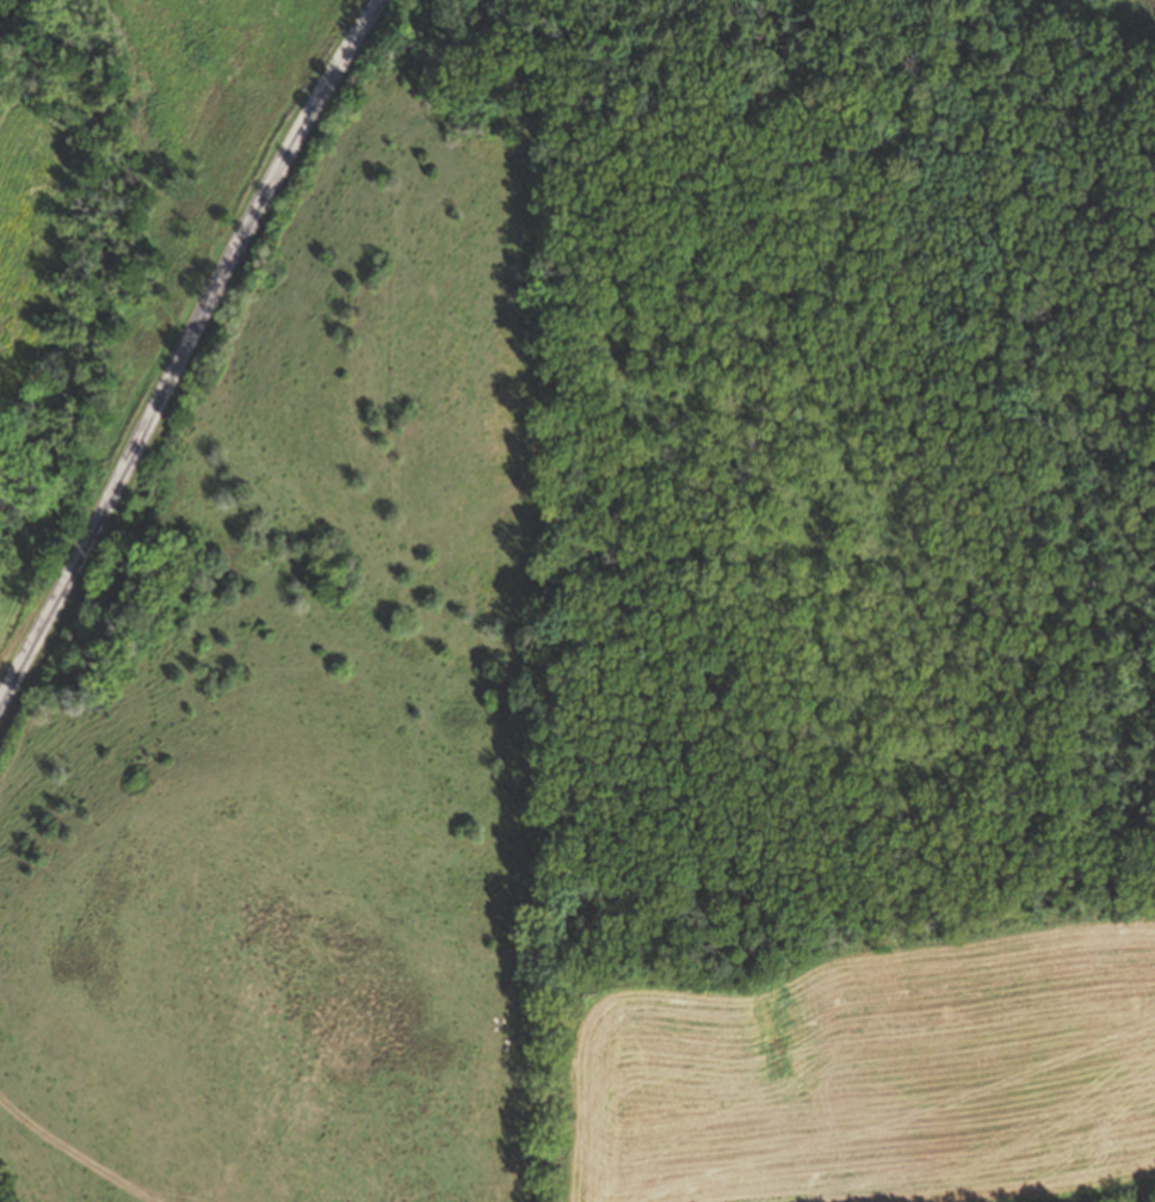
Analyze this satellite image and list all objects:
road: (186, 351)

